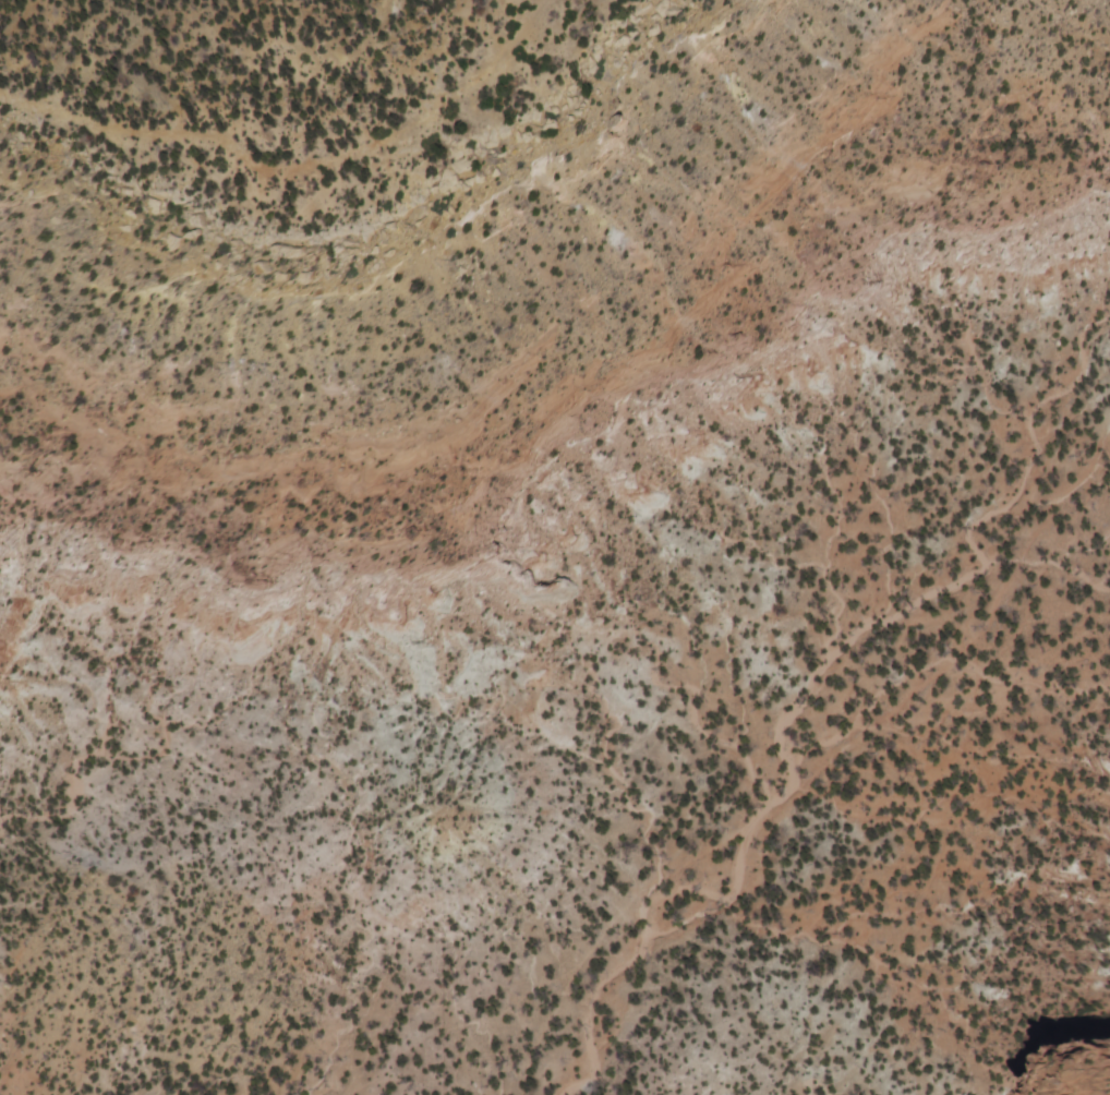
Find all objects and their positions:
road: (892, 722)

